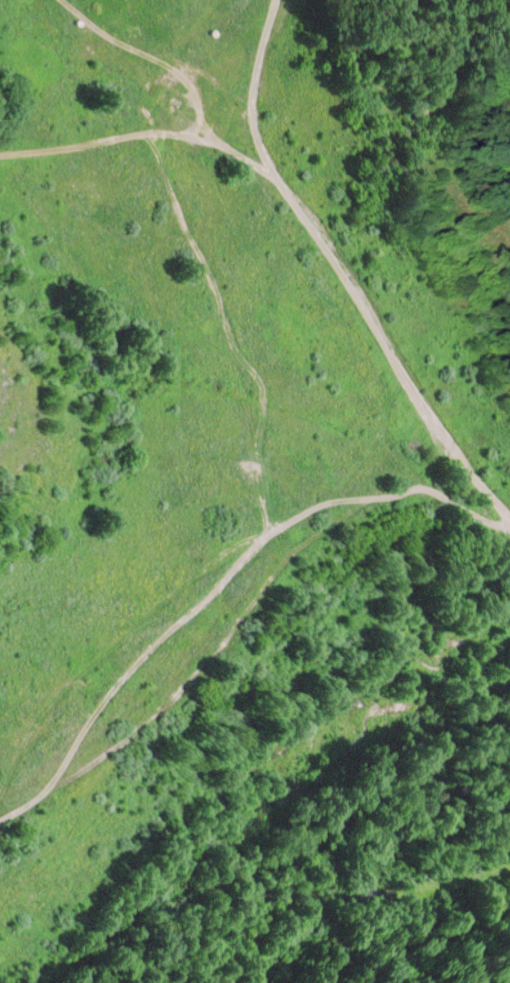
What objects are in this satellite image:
road: (239, 753)

